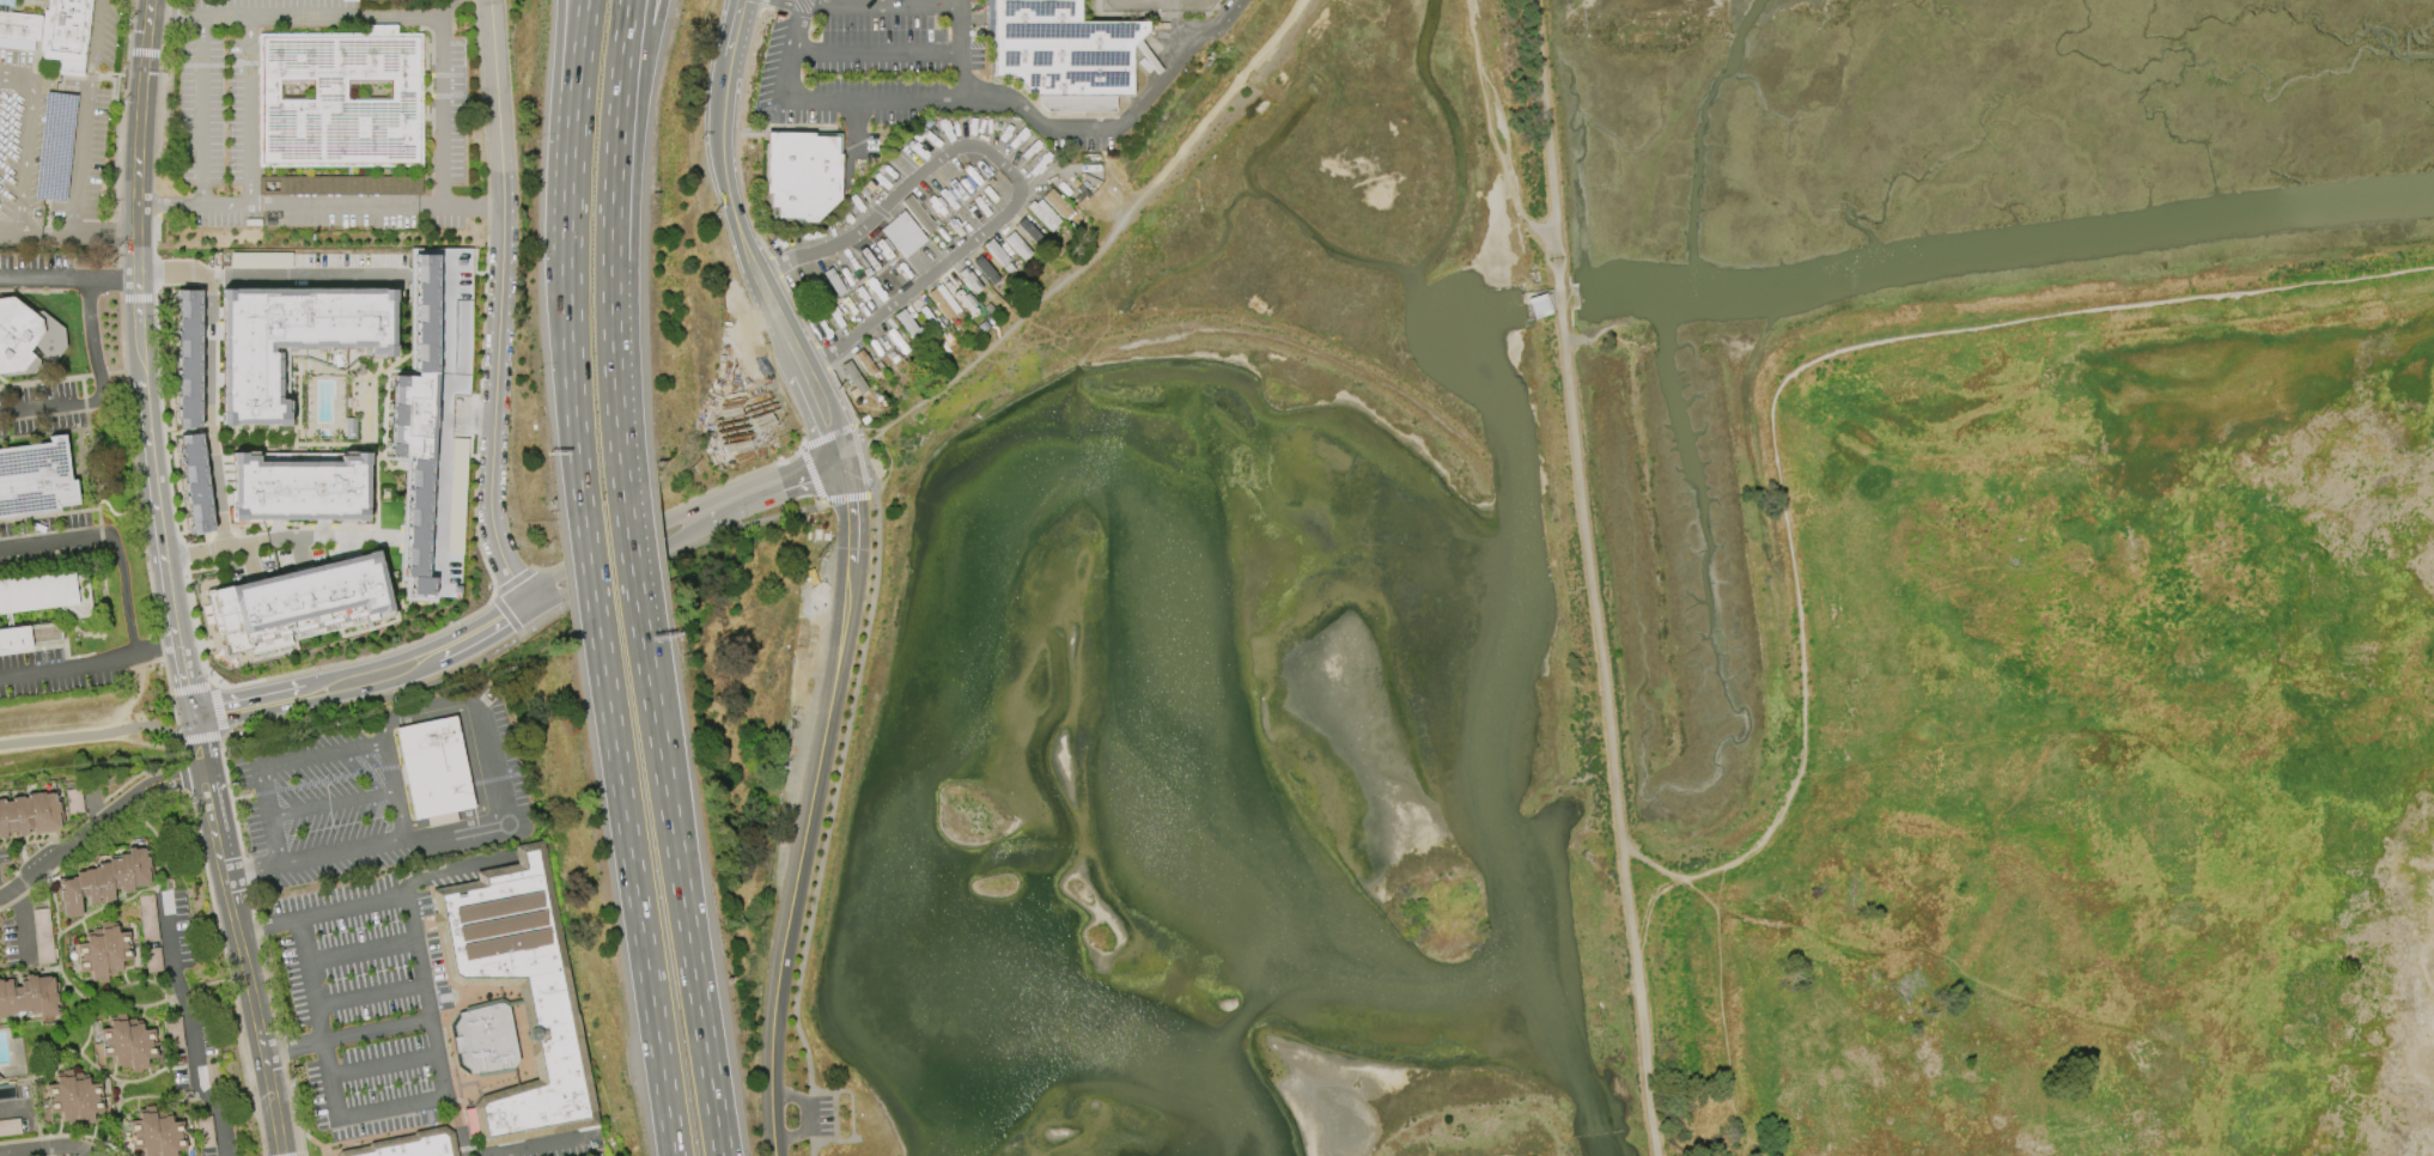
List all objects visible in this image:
road: (920, 1)
road: (761, 5)
power substation: (1156, 5)
road: (175, 10)
road: (322, 10)
road: (774, 10)
road: (793, 14)
building: (17, 23)
building: (65, 35)
road: (92, 45)
road: (791, 48)
road: (959, 48)
road: (875, 51)
road: (144, 53)
building: (1063, 54)
parking lot: (892, 72)
road: (17, 83)
road: (577, 93)
road: (560, 95)
building: (340, 98)
road: (616, 98)
road: (637, 98)
road: (899, 98)
road: (201, 105)
road: (1132, 105)
road: (249, 107)
road: (778, 110)
road: (951, 112)
road: (1544, 126)
road: (852, 128)
road: (756, 129)
road: (808, 129)
road: (442, 130)
road: (848, 130)
road: (84, 133)
road: (737, 134)
road: (750, 135)
building: (54, 146)
road: (115, 148)
road: (160, 150)
road: (28, 156)
road: (1010, 168)
building: (802, 174)
building: (341, 185)
road: (726, 189)
road: (168, 202)
road: (224, 202)
building: (1055, 203)
road: (346, 205)
building: (917, 214)
building: (1042, 214)
road: (11, 226)
building: (1028, 229)
road: (78, 230)
building: (902, 235)
road: (570, 243)
building: (1016, 245)
road: (1102, 245)
building: (996, 253)
building: (260, 260)
road: (774, 266)
building: (984, 270)
road: (68, 274)
road: (266, 279)
building: (969, 280)
road: (1558, 291)
road: (2237, 293)
road: (136, 298)
building: (943, 302)
road: (499, 305)
building: (1538, 305)
road: (797, 311)
building: (907, 324)
road: (138, 325)
building: (17, 336)
building: (296, 341)
building: (896, 341)
road: (610, 343)
road: (822, 357)
building: (191, 359)
building: (864, 363)
building: (852, 379)
road: (98, 385)
road: (842, 396)
road: (819, 400)
road: (573, 403)
road: (208, 415)
building: (433, 419)
road: (162, 420)
traffic signals: (830, 430)
road: (828, 436)
road: (860, 440)
road: (476, 446)
road: (838, 449)
road: (133, 467)
road: (894, 467)
road: (809, 474)
road: (811, 474)
traffic signals: (807, 475)
building: (35, 479)
road: (846, 480)
building: (197, 483)
building: (299, 489)
road: (848, 498)
traffic signals: (851, 504)
road: (1784, 513)
road: (852, 529)
road: (114, 536)
road: (650, 541)
road: (263, 542)
road: (627, 546)
road: (182, 555)
road: (589, 562)
road: (250, 564)
road: (202, 584)
building: (45, 592)
building: (299, 604)
road: (196, 628)
road: (481, 631)
road: (531, 634)
building: (30, 635)
road: (217, 641)
road: (202, 645)
road: (162, 646)
road: (157, 652)
road: (252, 657)
road: (121, 664)
road: (144, 664)
road: (68, 667)
road: (166, 676)
road: (182, 682)
road: (193, 688)
road: (312, 690)
road: (128, 705)
road: (223, 710)
traffic signals: (189, 716)
road: (175, 717)
road: (191, 726)
road: (92, 735)
road: (202, 737)
road: (1608, 742)
road: (179, 753)
road: (321, 754)
road: (486, 754)
road: (197, 756)
road: (388, 767)
building: (434, 769)
road: (2113, 771)
road: (193, 777)
road: (183, 778)
road: (304, 783)
road: (394, 789)
building: (73, 801)
parking lot: (324, 803)
road: (331, 804)
building: (30, 813)
road: (267, 815)
road: (209, 822)
road: (830, 825)
road: (89, 828)
road: (341, 851)
road: (798, 858)
road: (1657, 865)
road: (249, 866)
road: (679, 878)
building: (105, 880)
road: (634, 886)
road: (384, 898)
building: (147, 918)
road: (20, 920)
road: (258, 945)
road: (363, 950)
building: (103, 951)
building: (153, 959)
road: (229, 973)
road: (309, 979)
building: (521, 991)
parking lot: (366, 996)
building: (29, 997)
road: (371, 997)
road: (254, 1011)
road: (189, 1027)
road: (347, 1035)
building: (486, 1039)
building: (126, 1044)
road: (385, 1066)
building: (0, 1078)
building: (72, 1099)
road: (393, 1108)
road: (817, 1114)
parking lot: (826, 1117)
building: (10, 1127)
building: (156, 1133)
road: (50, 1144)
building: (408, 1145)
road: (300, 1155)

